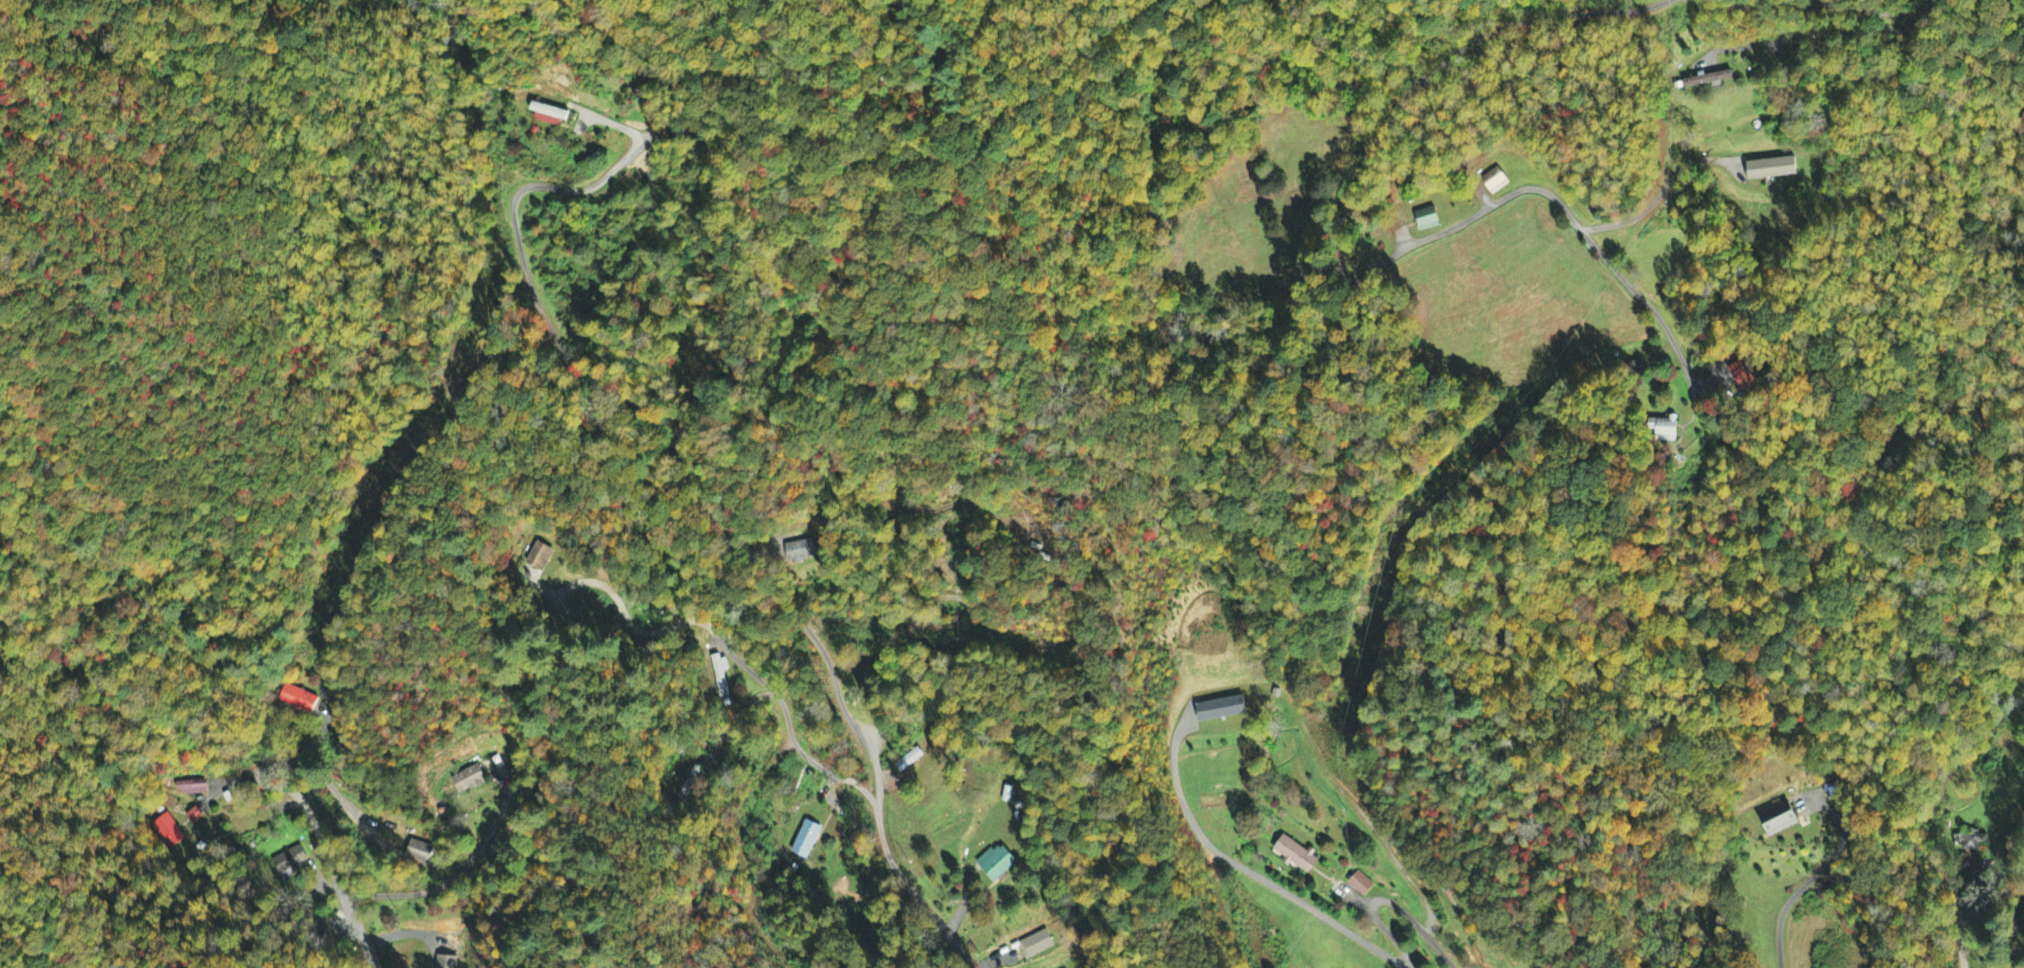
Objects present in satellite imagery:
road: (1825, 2)
road: (1442, 63)
building: (1707, 80)
building: (548, 116)
building: (1772, 169)
building: (1494, 181)
road: (1661, 192)
road: (1556, 201)
building: (1427, 220)
building: (1736, 378)
building: (1665, 430)
road: (709, 512)
building: (801, 551)
building: (539, 557)
road: (731, 654)
building: (719, 675)
building: (297, 700)
building: (1221, 709)
building: (909, 760)
building: (467, 780)
building: (190, 788)
building: (193, 816)
building: (1780, 820)
building: (167, 831)
building: (806, 840)
building: (1969, 842)
building: (419, 853)
building: (1296, 855)
building: (289, 860)
road: (327, 860)
building: (996, 863)
road: (450, 874)
road: (1811, 878)
building: (1360, 884)
road: (1996, 899)
road: (1389, 902)
building: (1037, 945)
building: (445, 962)

